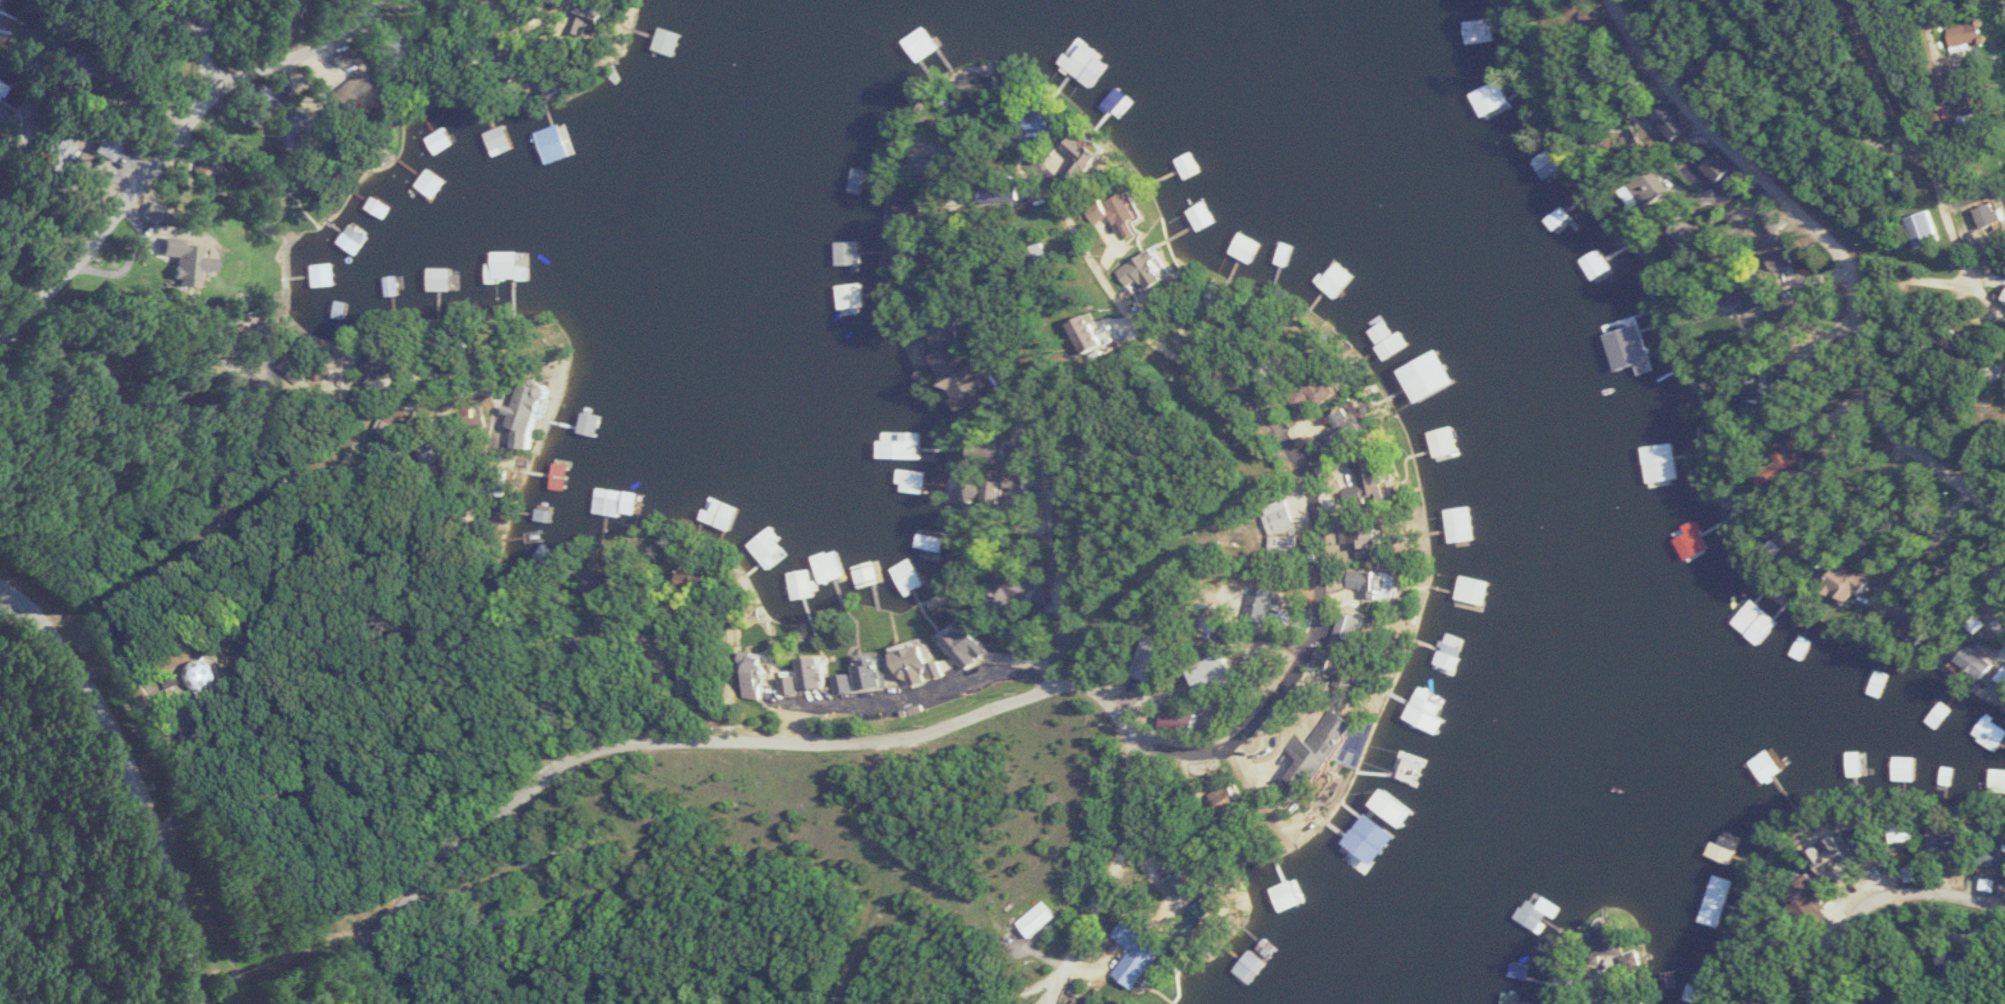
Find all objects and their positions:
road: (413, 6)
building: (1456, 33)
building: (1980, 34)
building: (671, 41)
building: (924, 44)
road: (297, 55)
building: (392, 58)
building: (1070, 66)
building: (82, 70)
road: (1928, 70)
road: (1843, 76)
building: (357, 88)
building: (264, 94)
building: (1117, 102)
building: (1671, 122)
building: (1045, 123)
building: (547, 137)
building: (110, 146)
building: (59, 147)
building: (499, 148)
building: (1087, 158)
building: (1189, 165)
building: (1717, 165)
building: (206, 170)
building: (861, 179)
road: (135, 183)
building: (432, 185)
building: (387, 210)
building: (1125, 212)
building: (1992, 214)
building: (1204, 216)
building: (1925, 227)
road: (1072, 232)
road: (1964, 232)
building: (356, 239)
building: (1247, 247)
building: (850, 252)
building: (1286, 254)
road: (1833, 254)
building: (1782, 260)
building: (1600, 264)
building: (517, 266)
building: (167, 267)
building: (1149, 272)
building: (324, 275)
road: (1906, 275)
building: (441, 278)
building: (1338, 280)
building: (855, 294)
building: (1748, 294)
building: (1631, 330)
building: (1390, 340)
building: (1958, 341)
building: (874, 361)
building: (968, 364)
building: (285, 365)
building: (1430, 376)
building: (1323, 390)
building: (531, 414)
building: (1355, 424)
building: (1445, 443)
building: (907, 449)
building: (993, 450)
building: (1797, 456)
building: (1666, 463)
building: (1378, 480)
building: (916, 481)
building: (985, 487)
road: (230, 489)
building: (617, 501)
building: (1295, 512)
building: (1461, 523)
building: (1377, 538)
building: (1802, 542)
building: (1301, 543)
building: (769, 547)
building: (832, 566)
building: (1377, 581)
building: (1854, 583)
building: (807, 591)
building: (1014, 592)
building: (1473, 592)
road: (1994, 598)
road: (3, 600)
road: (3, 602)
building: (1759, 622)
building: (1360, 625)
building: (972, 647)
building: (1161, 656)
building: (1981, 663)
building: (922, 664)
building: (1349, 667)
building: (872, 670)
building: (816, 672)
building: (1225, 672)
building: (208, 674)
building: (761, 675)
road: (681, 683)
building: (792, 684)
road: (1095, 694)
road: (918, 695)
building: (1429, 710)
building: (1191, 716)
building: (1996, 733)
building: (1326, 748)
road: (637, 749)
building: (1856, 763)
building: (1770, 765)
building: (1904, 768)
road: (132, 786)
building: (1233, 797)
building: (1949, 840)
building: (1866, 845)
building: (2002, 859)
building: (1844, 860)
road: (1120, 866)
building: (1285, 896)
building: (1817, 899)
road: (1881, 903)
building: (1541, 911)
building: (1043, 918)
building: (1140, 953)
building: (1951, 960)
road: (1595, 989)

